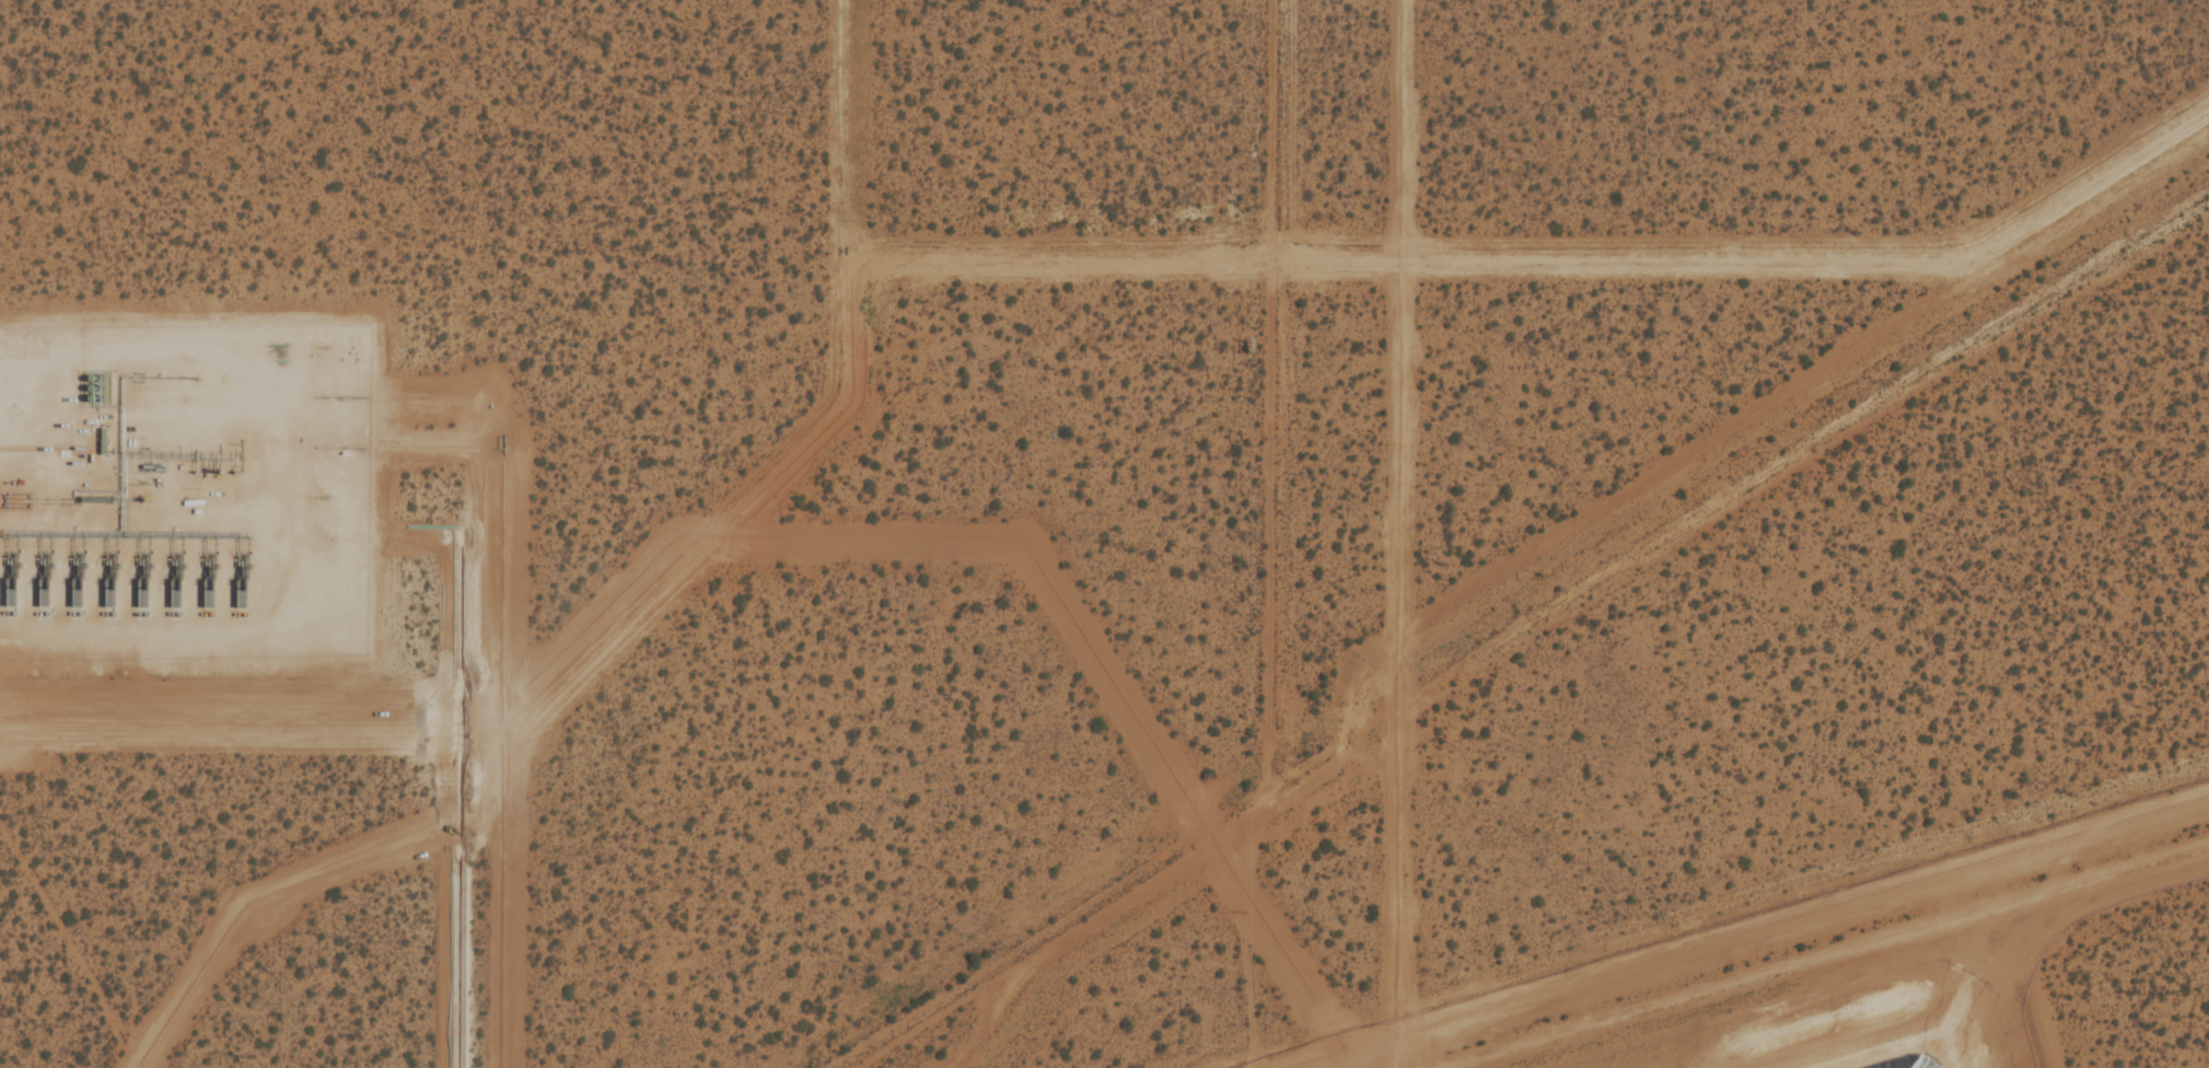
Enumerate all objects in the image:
road: (160, 365)
road: (367, 685)

